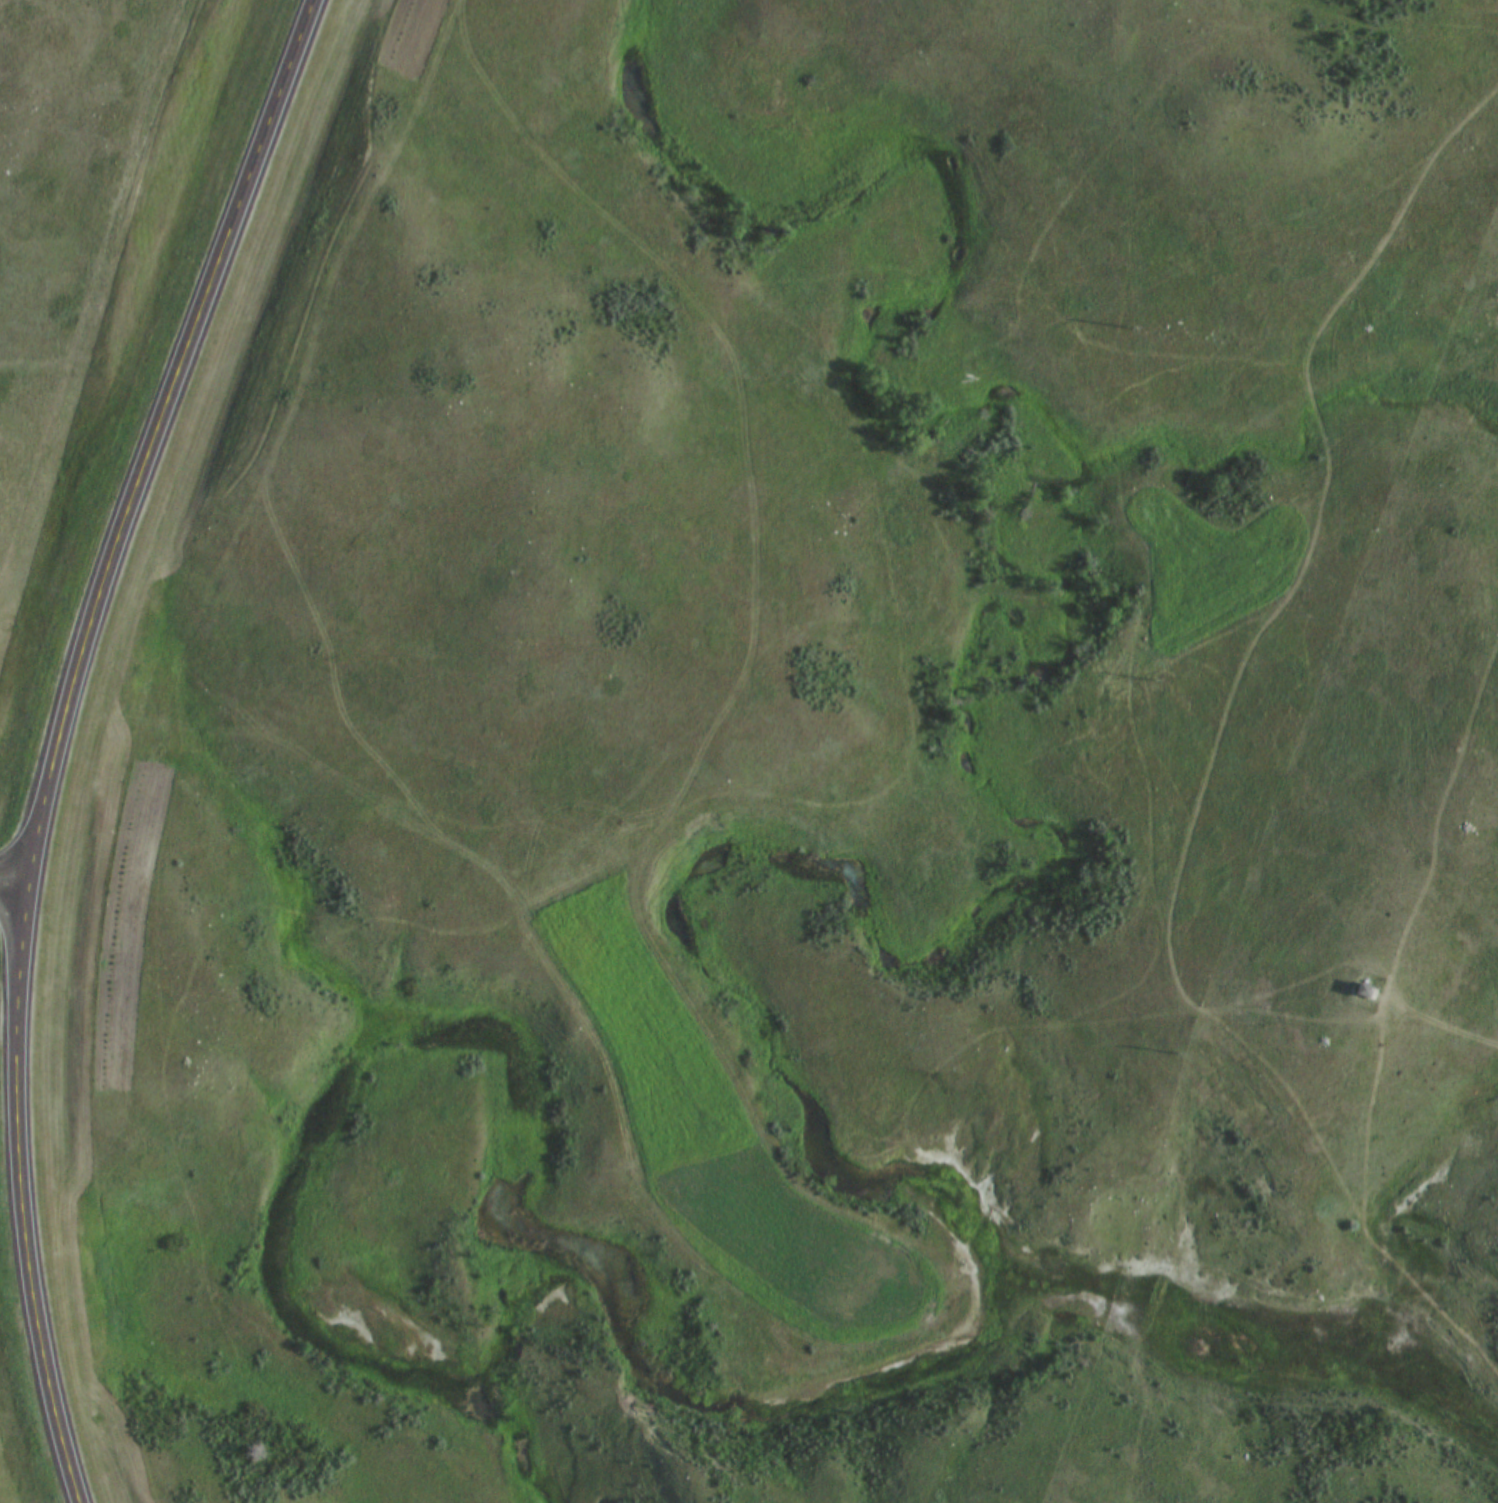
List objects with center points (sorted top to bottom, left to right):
road: (60, 734)
road: (13, 898)

